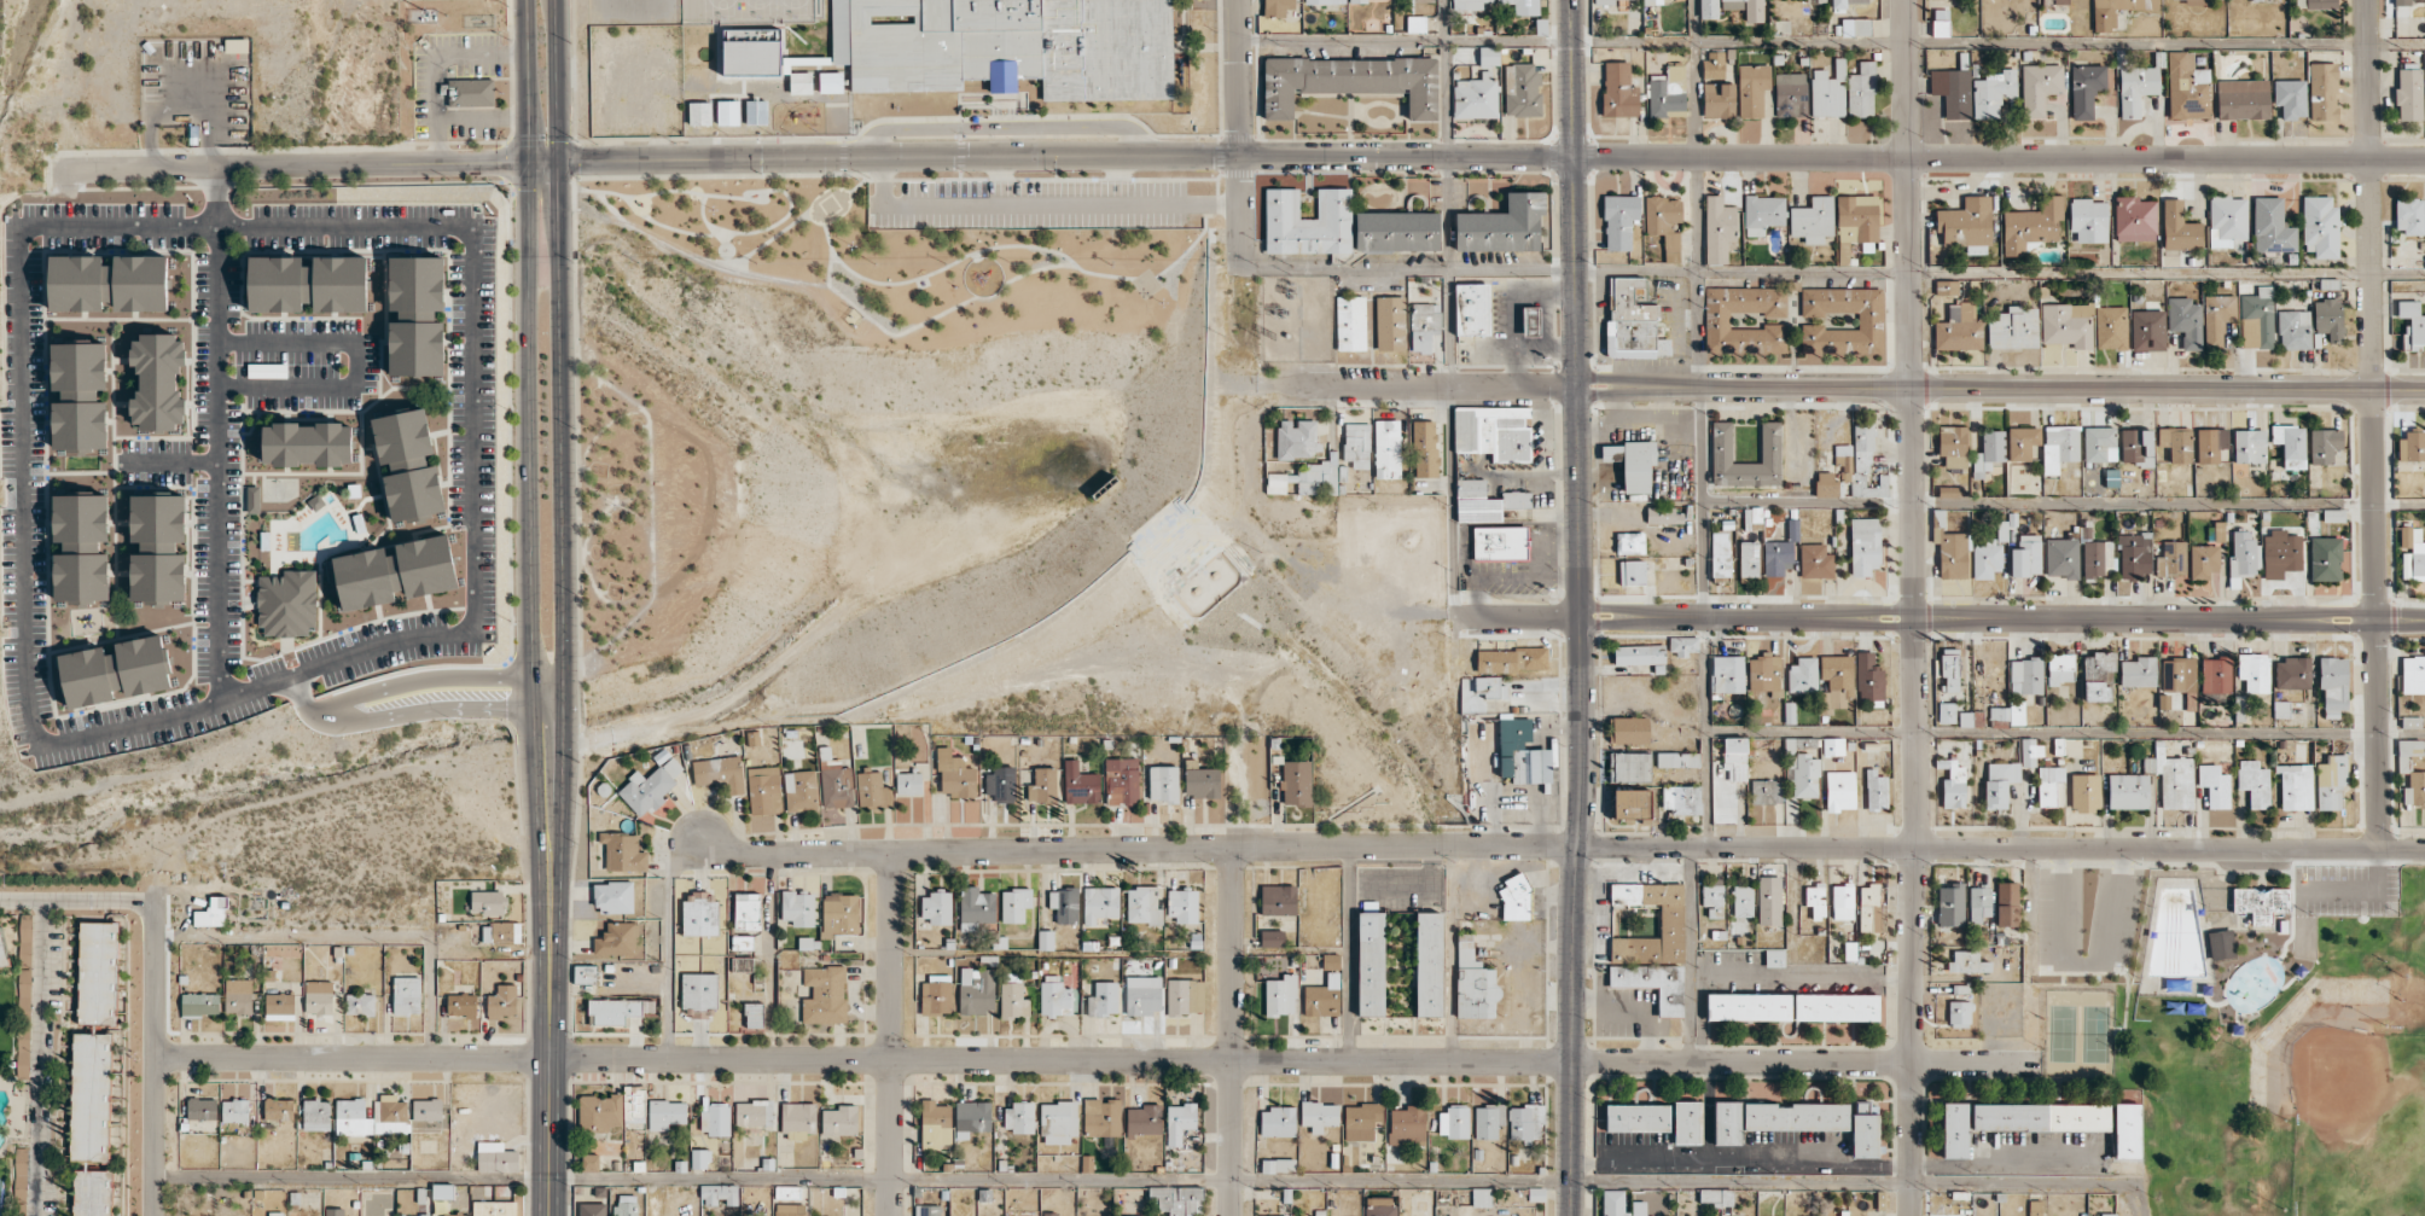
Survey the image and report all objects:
building: (1423, 0)
building: (2267, 0)
building: (1324, 1)
building: (1357, 1)
building: (2055, 1)
building: (2202, 1)
building: (1605, 2)
building: (1652, 2)
building: (2401, 2)
building: (1467, 4)
building: (1845, 4)
building: (2320, 4)
building: (1522, 6)
building: (1277, 7)
building: (1708, 8)
building: (1745, 8)
building: (2104, 19)
building: (1415, 23)
building: (1940, 23)
building: (1855, 27)
road: (1831, 43)
building: (237, 45)
building: (1007, 46)
building: (751, 51)
building: (1489, 56)
building: (1714, 64)
building: (702, 81)
building: (1350, 82)
building: (2134, 86)
building: (2039, 87)
building: (2187, 87)
building: (1752, 88)
building: (2086, 88)
building: (1522, 89)
building: (1618, 91)
building: (1861, 91)
building: (1952, 91)
building: (2322, 91)
building: (467, 92)
building: (1667, 93)
building: (1993, 93)
building: (1790, 94)
building: (1825, 94)
building: (2408, 94)
building: (1477, 95)
building: (2290, 98)
building: (2243, 99)
building: (1719, 100)
building: (699, 112)
building: (728, 112)
building: (756, 112)
road: (1239, 136)
road: (1051, 158)
road: (2000, 162)
road: (290, 167)
road: (749, 196)
road: (699, 210)
building: (1763, 214)
building: (1859, 215)
building: (2408, 215)
building: (2135, 219)
road: (650, 220)
building: (1813, 220)
building: (2089, 220)
building: (2227, 220)
building: (1619, 221)
building: (1308, 222)
road: (819, 223)
building: (1664, 223)
road: (345, 225)
building: (1966, 225)
building: (2031, 225)
building: (2320, 225)
building: (1502, 226)
building: (2270, 226)
building: (2179, 227)
road: (716, 228)
building: (1719, 229)
building: (1396, 231)
road: (1194, 240)
building: (1844, 243)
road: (745, 255)
road: (975, 255)
road: (1034, 269)
road: (1833, 275)
road: (786, 278)
building: (109, 283)
building: (308, 283)
building: (1946, 286)
road: (1448, 308)
building: (1472, 309)
building: (417, 315)
building: (2328, 318)
building: (1869, 319)
building: (2257, 319)
building: (1717, 320)
building: (2218, 320)
building: (1530, 321)
building: (1633, 321)
building: (2185, 321)
building: (1350, 322)
building: (1390, 322)
building: (2068, 324)
building: (2412, 324)
building: (1424, 325)
building: (2111, 327)
building: (1959, 328)
building: (2013, 328)
building: (2147, 330)
building: (2293, 330)
road: (355, 362)
building: (158, 382)
road: (598, 382)
road: (1339, 384)
road: (1513, 385)
road: (2000, 389)
road: (529, 396)
road: (564, 396)
building: (80, 397)
park: (622, 397)
road: (1699, 423)
road: (2373, 424)
road: (645, 425)
building: (1493, 432)
road: (470, 435)
road: (219, 436)
building: (1297, 438)
building: (1721, 442)
building: (2022, 442)
building: (308, 443)
building: (2099, 443)
building: (2176, 443)
building: (1356, 444)
building: (2210, 444)
building: (2290, 444)
building: (2324, 444)
building: (1953, 446)
building: (2249, 446)
building: (2059, 447)
building: (2136, 447)
building: (2412, 447)
building: (1424, 448)
building: (1386, 449)
building: (1988, 452)
building: (1611, 453)
road: (174, 461)
building: (1860, 462)
building: (408, 465)
building: (1638, 465)
road: (583, 467)
road: (582, 478)
building: (1307, 478)
building: (1825, 483)
building: (1948, 491)
building: (252, 499)
road: (613, 500)
building: (1485, 501)
road: (2063, 501)
road: (651, 508)
road: (605, 513)
building: (1664, 516)
building: (1752, 518)
building: (1629, 542)
building: (1500, 543)
building: (1865, 546)
building: (81, 547)
building: (158, 548)
building: (1949, 548)
road: (586, 552)
building: (1780, 552)
building: (2280, 553)
road: (582, 554)
building: (1721, 554)
building: (2134, 554)
building: (2412, 554)
building: (2026, 555)
building: (2077, 555)
building: (2243, 558)
building: (2325, 558)
building: (1749, 559)
building: (1987, 559)
building: (2171, 559)
building: (2203, 560)
building: (1815, 562)
building: (395, 572)
building: (1632, 572)
road: (599, 590)
building: (287, 603)
road: (1580, 607)
road: (1909, 607)
road: (25, 609)
road: (1517, 617)
road: (1978, 619)
road: (2401, 619)
building: (1683, 645)
building: (1639, 654)
building: (1510, 659)
building: (2099, 667)
building: (1949, 668)
building: (2060, 668)
building: (116, 670)
building: (2138, 671)
building: (2254, 671)
building: (1727, 674)
building: (1764, 674)
building: (2026, 674)
building: (2413, 674)
building: (1802, 676)
building: (2215, 676)
building: (2292, 676)
building: (1869, 679)
building: (2180, 679)
road: (443, 680)
building: (1836, 681)
building: (2333, 685)
building: (1489, 687)
building: (2097, 692)
road: (307, 699)
road: (444, 710)
building: (1789, 712)
building: (1946, 712)
building: (2017, 712)
building: (1999, 715)
building: (1630, 729)
road: (2041, 733)
road: (2402, 735)
building: (1833, 746)
building: (1508, 749)
building: (2030, 752)
building: (2407, 754)
building: (1677, 760)
building: (1629, 767)
building: (719, 773)
building: (955, 774)
building: (1805, 775)
building: (2171, 776)
building: (1728, 779)
building: (1122, 781)
building: (1202, 781)
building: (2331, 781)
building: (1296, 782)
building: (1999, 782)
building: (2254, 782)
building: (908, 784)
building: (1001, 784)
building: (1080, 784)
building: (1163, 784)
building: (1953, 784)
building: (2048, 784)
building: (1042, 785)
building: (2215, 785)
building: (650, 786)
building: (836, 786)
building: (2296, 786)
building: (763, 790)
building: (799, 790)
building: (1839, 790)
building: (1876, 790)
building: (2414, 790)
building: (873, 791)
building: (1766, 791)
building: (2128, 791)
building: (2084, 792)
building: (1681, 799)
building: (1630, 804)
quarry: (0, 826)
road: (1564, 845)
building: (623, 851)
building: (613, 897)
building: (1514, 897)
building: (1278, 900)
building: (1712, 900)
building: (1769, 900)
building: (1815, 900)
building: (1741, 901)
road: (77, 902)
building: (488, 902)
building: (1843, 902)
building: (1979, 902)
building: (1100, 903)
building: (1950, 903)
building: (2007, 903)
building: (2260, 903)
building: (1014, 904)
building: (1064, 904)
building: (1182, 904)
building: (976, 906)
building: (1142, 906)
building: (936, 907)
building: (798, 908)
building: (1868, 908)
building: (217, 910)
building: (748, 910)
building: (700, 913)
building: (839, 914)
building: (1670, 920)
road: (549, 925)
building: (501, 932)
building: (1272, 938)
building: (620, 939)
building: (1045, 939)
building: (742, 942)
building: (2221, 944)
building: (2, 949)
building: (1774, 956)
building: (1331, 961)
building: (1969, 962)
building: (742, 964)
building: (1371, 964)
building: (1429, 964)
road: (2082, 964)
building: (24, 970)
building: (98, 972)
building: (585, 973)
building: (1473, 983)
building: (1653, 983)
building: (977, 990)
building: (700, 994)
building: (406, 995)
building: (824, 995)
building: (936, 995)
building: (1142, 995)
building: (1280, 995)
building: (238, 996)
building: (1054, 996)
building: (1185, 996)
building: (1324, 996)
building: (319, 997)
building: (1104, 999)
building: (1013, 1000)
building: (502, 1001)
building: (200, 1003)
building: (360, 1003)
building: (461, 1005)
building: (279, 1006)
building: (1749, 1007)
building: (1836, 1007)
building: (617, 1010)
building: (1959, 1013)
building: (754, 1014)
park: (2241, 1023)
road: (1232, 1031)
park: (2077, 1034)
road: (891, 1035)
road: (353, 1057)
road: (156, 1058)
road: (40, 1059)
road: (1293, 1060)
building: (91, 1096)
building: (634, 1104)
building: (202, 1109)
building: (279, 1109)
building: (426, 1110)
building: (235, 1111)
building: (599, 1112)
building: (665, 1113)
building: (754, 1113)
building: (316, 1115)
building: (390, 1115)
building: (1319, 1115)
building: (353, 1117)
building: (972, 1117)
building: (1018, 1117)
building: (1101, 1117)
building: (1638, 1117)
building: (1796, 1117)
building: (2040, 1117)
building: (716, 1118)
building: (798, 1119)
building: (1144, 1119)
building: (839, 1121)
building: (1278, 1121)
building: (1361, 1121)
building: (1488, 1121)
building: (1058, 1122)
building: (1179, 1122)
building: (1453, 1122)
building: (1525, 1122)
building: (1687, 1122)
building: (1727, 1123)
park: (2356, 1123)
building: (935, 1124)
building: (1407, 1125)
building: (1865, 1129)
building: (1954, 1130)
building: (2125, 1130)
road: (551, 1138)
building: (496, 1157)
building: (700, 1158)
building: (21, 1163)
building: (589, 1163)
building: (1278, 1165)
road: (1145, 1180)
building: (442, 1191)
building: (92, 1192)
building: (787, 1192)
building: (720, 1193)
building: (1481, 1197)
building: (1716, 1197)
building: (1179, 1199)
building: (1613, 1203)
building: (627, 1205)
building: (1379, 1206)
building: (494, 1208)
building: (1638, 1208)
building: (2035, 1208)
building: (592, 1209)
building: (790, 1209)
building: (927, 1210)
building: (333, 1211)
building: (1843, 1212)
building: (275, 1214)
building: (455, 1214)
building: (1049, 1214)
building: (1281, 1215)
building: (2107, 1215)

